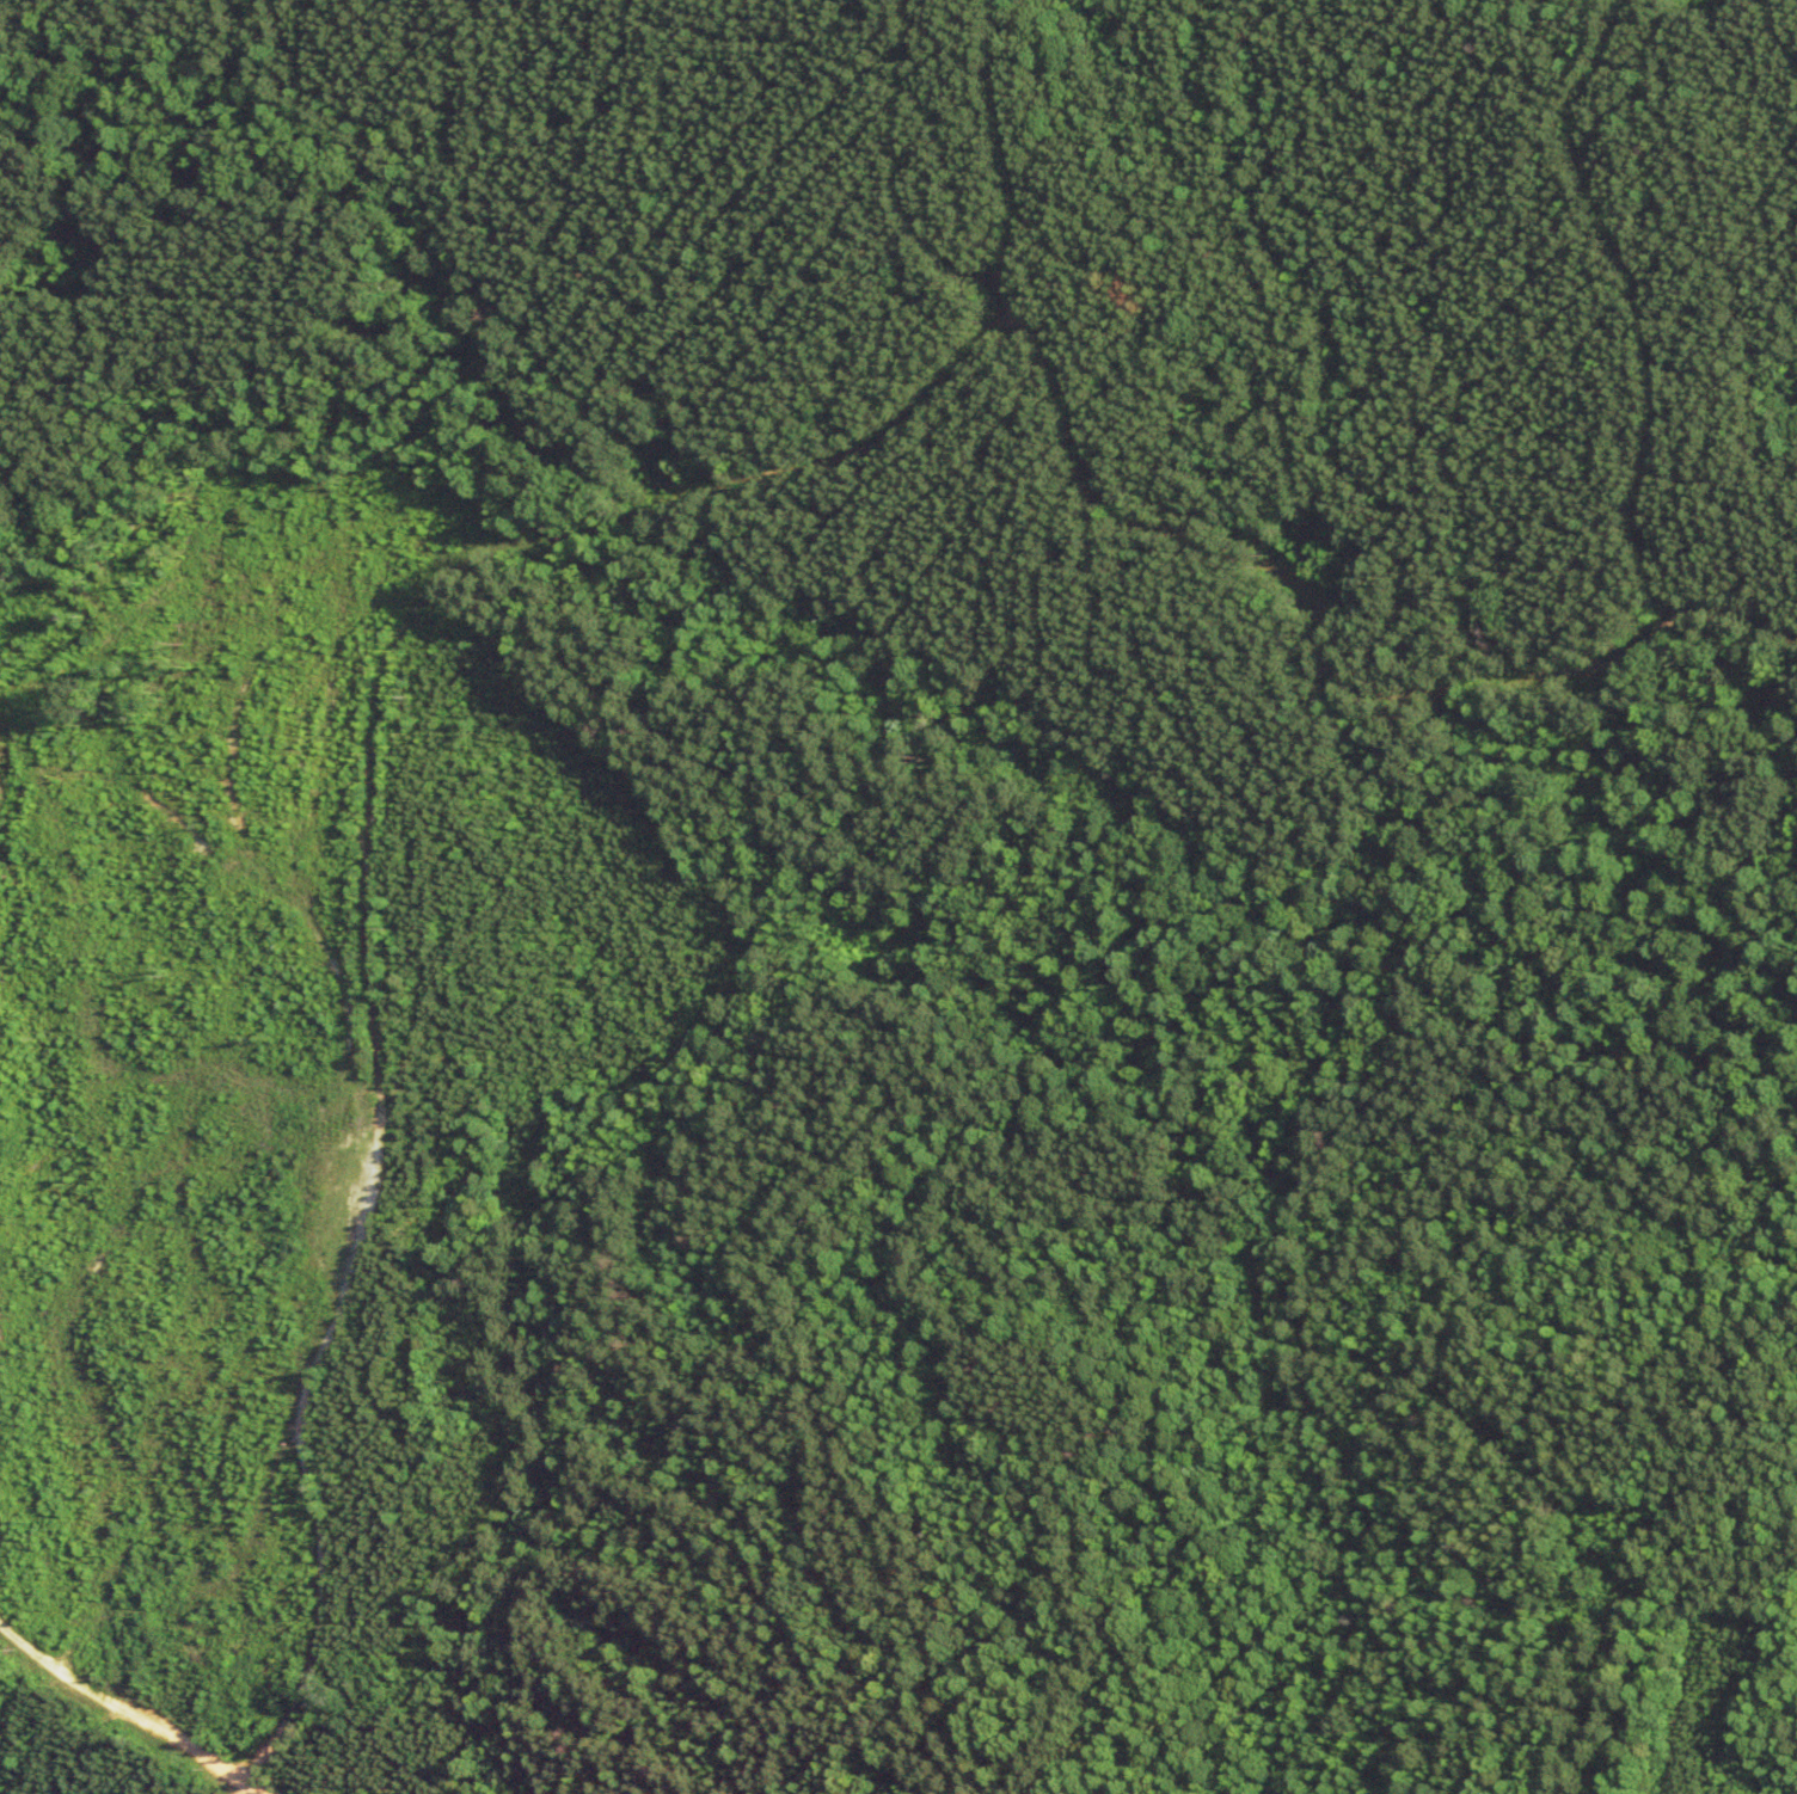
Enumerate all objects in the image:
road: (188, 1684)

